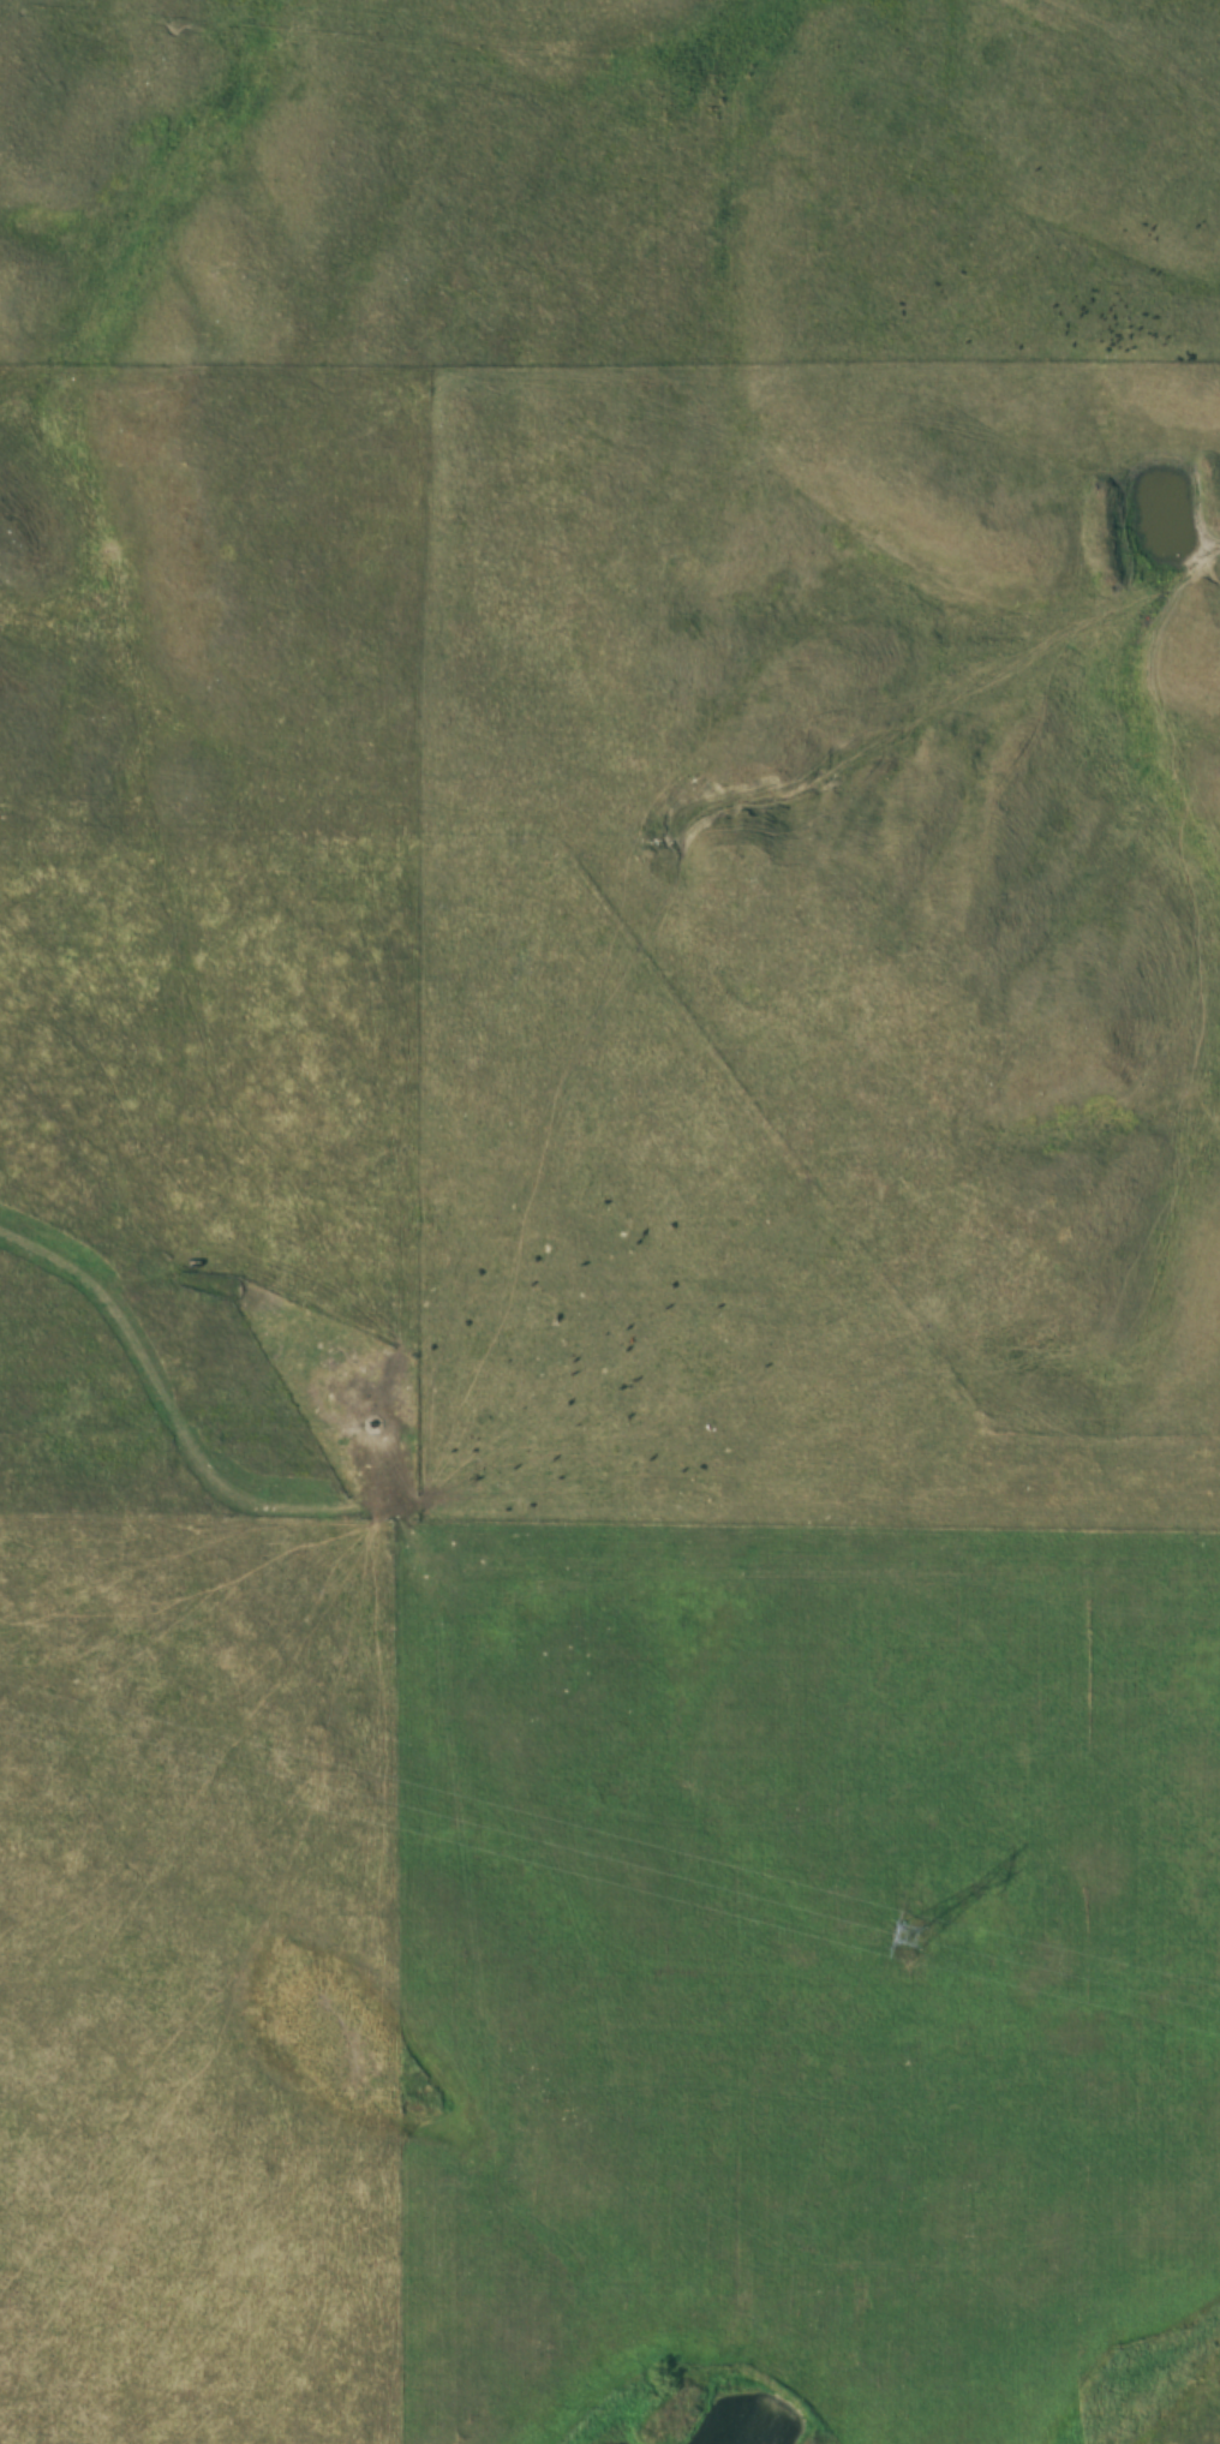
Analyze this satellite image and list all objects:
power tower: (914, 1922)

